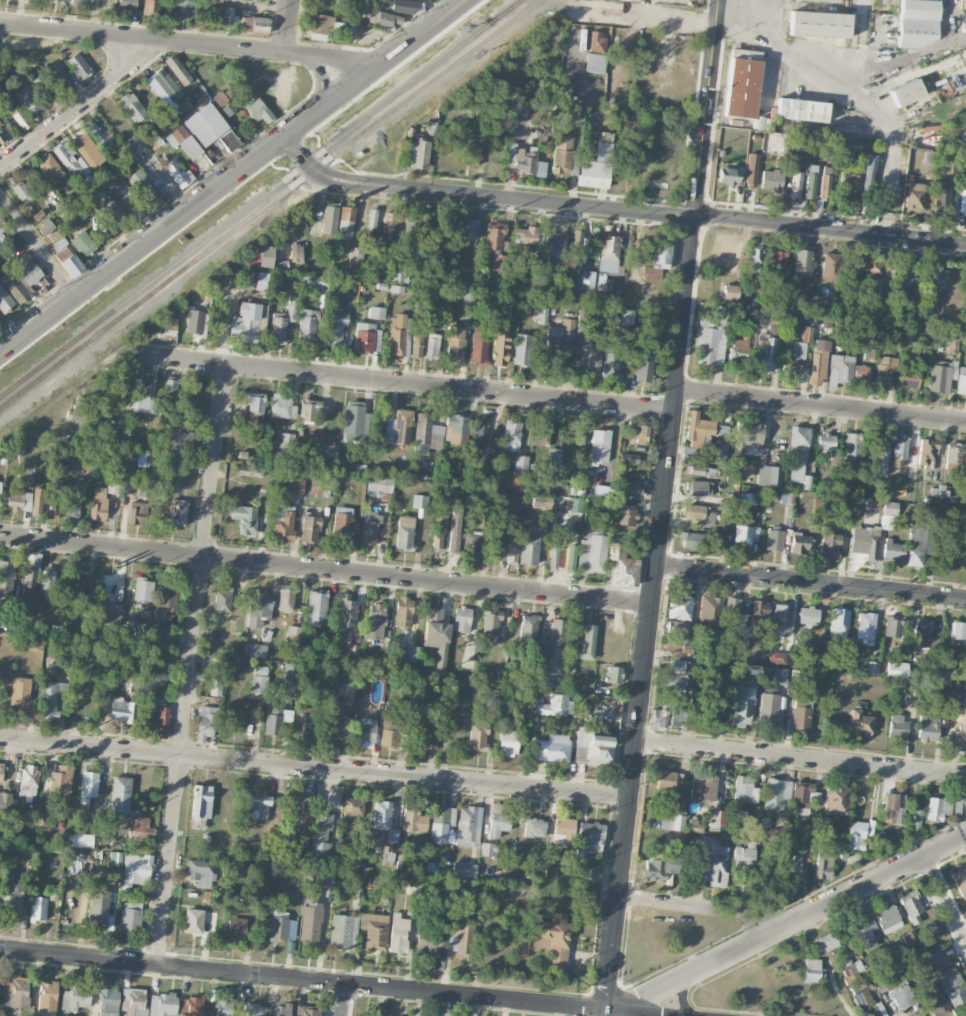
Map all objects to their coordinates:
building: (61, 0)
building: (326, 0)
building: (817, 0)
building: (623, 1)
building: (81, 2)
building: (128, 6)
building: (404, 6)
building: (151, 7)
building: (184, 9)
railway: (505, 11)
road: (763, 14)
road: (652, 17)
building: (384, 19)
building: (253, 22)
building: (320, 23)
building: (917, 23)
building: (818, 24)
road: (286, 27)
building: (317, 36)
road: (181, 42)
road: (410, 42)
building: (597, 42)
building: (594, 63)
building: (78, 66)
building: (178, 70)
building: (58, 73)
road: (845, 83)
building: (44, 84)
building: (166, 84)
building: (741, 88)
building: (906, 92)
building: (27, 100)
building: (223, 103)
building: (133, 106)
building: (183, 106)
road: (76, 109)
building: (257, 110)
building: (801, 110)
building: (14, 113)
building: (206, 124)
building: (2, 135)
railway: (354, 137)
building: (102, 138)
building: (181, 139)
building: (230, 141)
building: (156, 142)
building: (88, 151)
building: (419, 154)
building: (470, 155)
building: (564, 156)
building: (928, 158)
building: (69, 159)
building: (525, 161)
building: (597, 164)
building: (49, 167)
building: (751, 169)
building: (868, 171)
building: (178, 173)
building: (660, 173)
building: (727, 175)
building: (771, 180)
building: (810, 181)
building: (795, 184)
building: (824, 185)
building: (848, 187)
building: (144, 189)
building: (20, 190)
railway: (259, 197)
building: (913, 197)
building: (941, 198)
building: (963, 198)
road: (617, 210)
building: (112, 215)
building: (329, 218)
building: (372, 218)
road: (177, 219)
building: (0, 223)
building: (346, 223)
building: (388, 224)
building: (45, 227)
building: (412, 229)
building: (468, 229)
building: (525, 238)
building: (60, 243)
building: (553, 243)
building: (83, 244)
building: (576, 245)
road: (38, 246)
building: (496, 246)
building: (296, 252)
building: (63, 253)
building: (608, 253)
building: (265, 256)
building: (355, 256)
building: (754, 257)
building: (657, 261)
building: (777, 261)
building: (802, 263)
building: (70, 264)
building: (831, 266)
building: (851, 268)
building: (906, 272)
building: (400, 275)
building: (874, 276)
building: (935, 278)
building: (245, 279)
building: (21, 280)
building: (265, 280)
building: (315, 282)
building: (603, 284)
building: (396, 288)
building: (729, 291)
building: (5, 300)
building: (486, 302)
building: (377, 312)
building: (540, 314)
building: (627, 316)
building: (194, 321)
building: (282, 321)
building: (245, 322)
building: (169, 323)
building: (306, 326)
building: (335, 327)
building: (397, 336)
building: (364, 337)
building: (711, 338)
railway: (86, 341)
building: (416, 343)
building: (455, 343)
building: (559, 344)
building: (432, 346)
building: (500, 347)
building: (478, 348)
building: (522, 349)
building: (738, 350)
building: (586, 351)
building: (764, 353)
building: (796, 353)
building: (610, 364)
building: (643, 364)
building: (819, 364)
building: (791, 368)
building: (887, 370)
building: (861, 374)
building: (909, 375)
building: (941, 375)
building: (961, 381)
road: (402, 383)
building: (170, 386)
building: (195, 386)
building: (141, 397)
building: (255, 405)
building: (281, 406)
road: (821, 406)
building: (79, 409)
building: (308, 409)
building: (353, 417)
building: (398, 428)
building: (697, 429)
building: (722, 431)
building: (480, 433)
building: (638, 433)
building: (427, 434)
building: (540, 435)
building: (747, 435)
building: (511, 436)
building: (826, 441)
building: (179, 442)
building: (286, 445)
building: (599, 447)
building: (322, 450)
building: (851, 451)
building: (899, 451)
building: (925, 452)
building: (953, 453)
building: (797, 454)
building: (115, 456)
building: (553, 457)
building: (882, 457)
building: (964, 458)
building: (141, 459)
building: (130, 461)
building: (249, 470)
building: (703, 471)
building: (520, 473)
building: (768, 476)
building: (0, 483)
building: (379, 484)
building: (295, 485)
building: (630, 486)
building: (699, 488)
building: (604, 493)
building: (19, 499)
building: (38, 501)
building: (542, 501)
building: (98, 503)
building: (73, 504)
building: (561, 504)
building: (420, 505)
building: (575, 505)
building: (54, 507)
road: (662, 507)
building: (137, 513)
building: (177, 513)
building: (700, 514)
building: (888, 515)
building: (624, 516)
building: (245, 519)
building: (283, 522)
building: (344, 524)
building: (369, 527)
building: (309, 529)
building: (438, 530)
building: (745, 531)
building: (404, 533)
building: (463, 540)
building: (691, 540)
building: (774, 540)
building: (921, 541)
building: (800, 542)
building: (864, 542)
building: (496, 544)
building: (830, 544)
building: (592, 547)
building: (512, 549)
building: (529, 550)
building: (893, 550)
building: (553, 553)
building: (570, 558)
building: (621, 566)
road: (326, 571)
building: (30, 578)
building: (6, 579)
building: (47, 580)
building: (79, 580)
road: (811, 583)
building: (143, 589)
building: (166, 596)
building: (285, 597)
building: (222, 601)
building: (731, 605)
building: (680, 606)
building: (259, 608)
building: (316, 608)
building: (346, 611)
building: (403, 611)
building: (710, 611)
building: (760, 612)
building: (108, 613)
building: (377, 613)
building: (782, 614)
building: (808, 615)
building: (161, 616)
building: (461, 619)
building: (491, 622)
building: (839, 623)
building: (892, 626)
building: (528, 628)
building: (678, 628)
building: (865, 629)
building: (958, 632)
building: (436, 636)
building: (923, 636)
building: (293, 638)
building: (588, 642)
building: (671, 647)
building: (555, 648)
building: (685, 649)
building: (254, 650)
building: (353, 650)
building: (410, 653)
building: (777, 657)
road: (191, 665)
building: (872, 668)
building: (896, 669)
building: (944, 671)
building: (675, 673)
building: (613, 674)
building: (780, 676)
building: (159, 677)
building: (259, 679)
building: (290, 679)
building: (910, 685)
building: (215, 686)
building: (345, 691)
building: (20, 692)
building: (963, 697)
building: (50, 698)
building: (552, 706)
building: (741, 706)
building: (709, 709)
building: (768, 709)
building: (122, 710)
building: (667, 713)
building: (801, 714)
building: (154, 716)
building: (276, 719)
building: (233, 720)
building: (205, 722)
building: (303, 722)
building: (859, 723)
building: (332, 725)
building: (897, 725)
building: (447, 726)
building: (927, 727)
building: (363, 730)
building: (961, 734)
building: (424, 736)
building: (478, 736)
building: (388, 738)
building: (507, 742)
building: (592, 747)
building: (551, 748)
road: (801, 758)
road: (315, 769)
building: (1, 772)
building: (667, 780)
building: (28, 781)
building: (61, 781)
building: (88, 786)
building: (703, 787)
building: (745, 790)
building: (776, 793)
building: (120, 794)
building: (801, 794)
building: (836, 800)
building: (959, 803)
building: (4, 805)
building: (200, 805)
building: (259, 805)
building: (893, 808)
building: (937, 808)
building: (352, 809)
building: (295, 810)
building: (413, 818)
building: (498, 819)
building: (672, 820)
building: (914, 821)
building: (441, 823)
building: (468, 826)
building: (384, 827)
building: (534, 827)
building: (139, 829)
building: (563, 831)
building: (320, 833)
building: (777, 835)
building: (857, 836)
building: (589, 838)
building: (81, 840)
building: (884, 842)
building: (488, 849)
building: (808, 854)
building: (744, 856)
building: (712, 862)
building: (793, 867)
building: (823, 867)
building: (464, 869)
building: (551, 869)
building: (135, 871)
building: (765, 871)
building: (199, 872)
building: (582, 873)
building: (321, 878)
building: (960, 881)
road: (945, 899)
building: (13, 901)
building: (250, 901)
building: (911, 906)
building: (98, 908)
building: (38, 909)
road: (704, 910)
building: (310, 917)
building: (129, 918)
building: (193, 921)
road: (787, 925)
building: (236, 927)
building: (278, 928)
building: (930, 928)
building: (343, 931)
building: (374, 931)
building: (398, 933)
building: (862, 936)
building: (909, 936)
building: (459, 937)
building: (429, 939)
building: (552, 941)
building: (825, 942)
building: (935, 957)
building: (813, 971)
road: (326, 983)
building: (883, 983)
building: (858, 986)
building: (952, 987)
building: (15, 992)
building: (901, 996)
building: (47, 997)
building: (76, 997)
road: (342, 1000)
building: (108, 1002)
building: (133, 1002)
building: (936, 1003)
building: (162, 1004)
building: (191, 1006)
building: (223, 1007)
building: (281, 1010)
building: (307, 1011)

